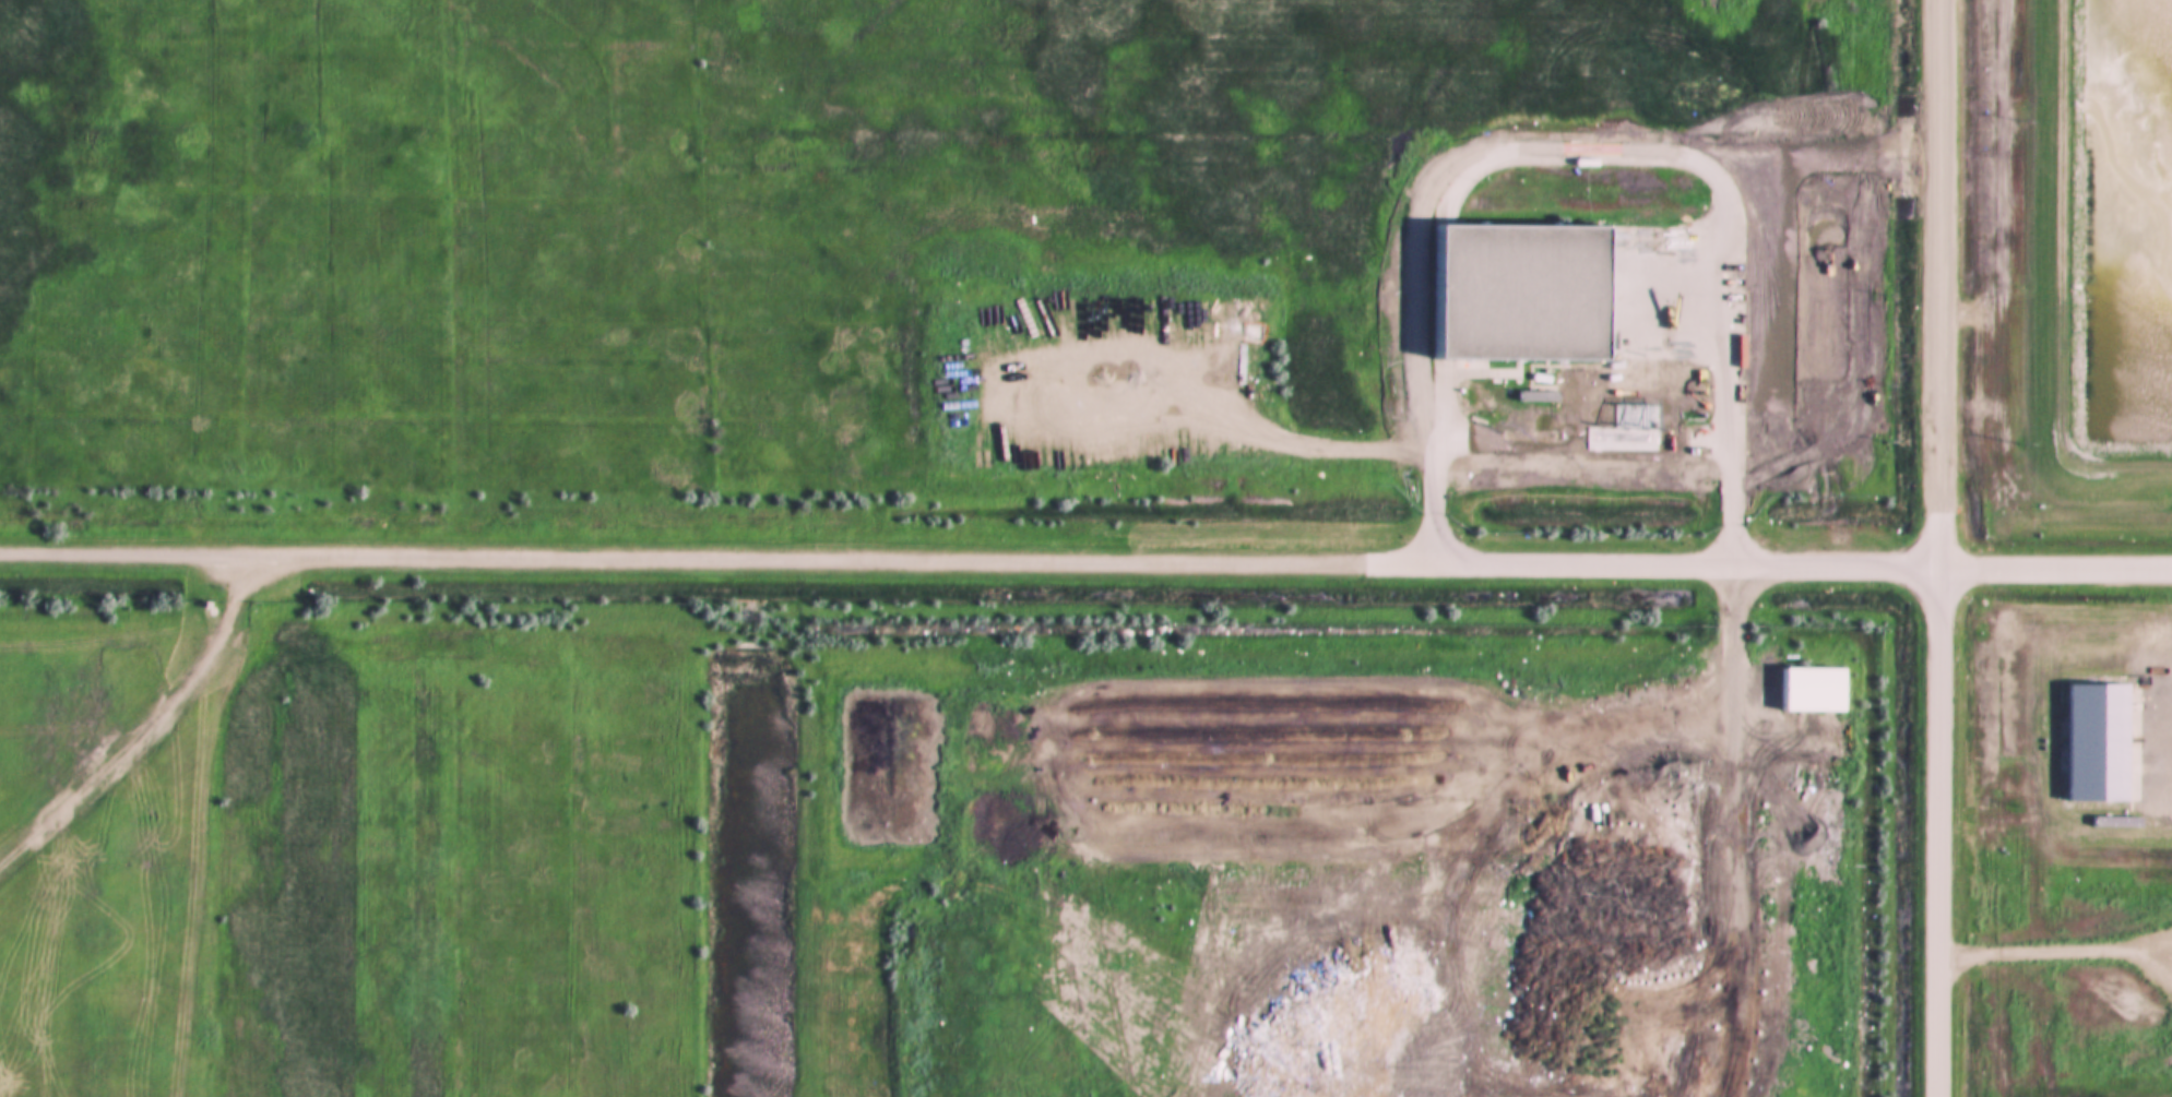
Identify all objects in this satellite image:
road: (1940, 283)
building: (1518, 287)
road: (1583, 434)
road: (716, 562)
road: (1802, 564)
building: (1811, 687)
road: (152, 734)
building: (2091, 739)
road: (1938, 831)

